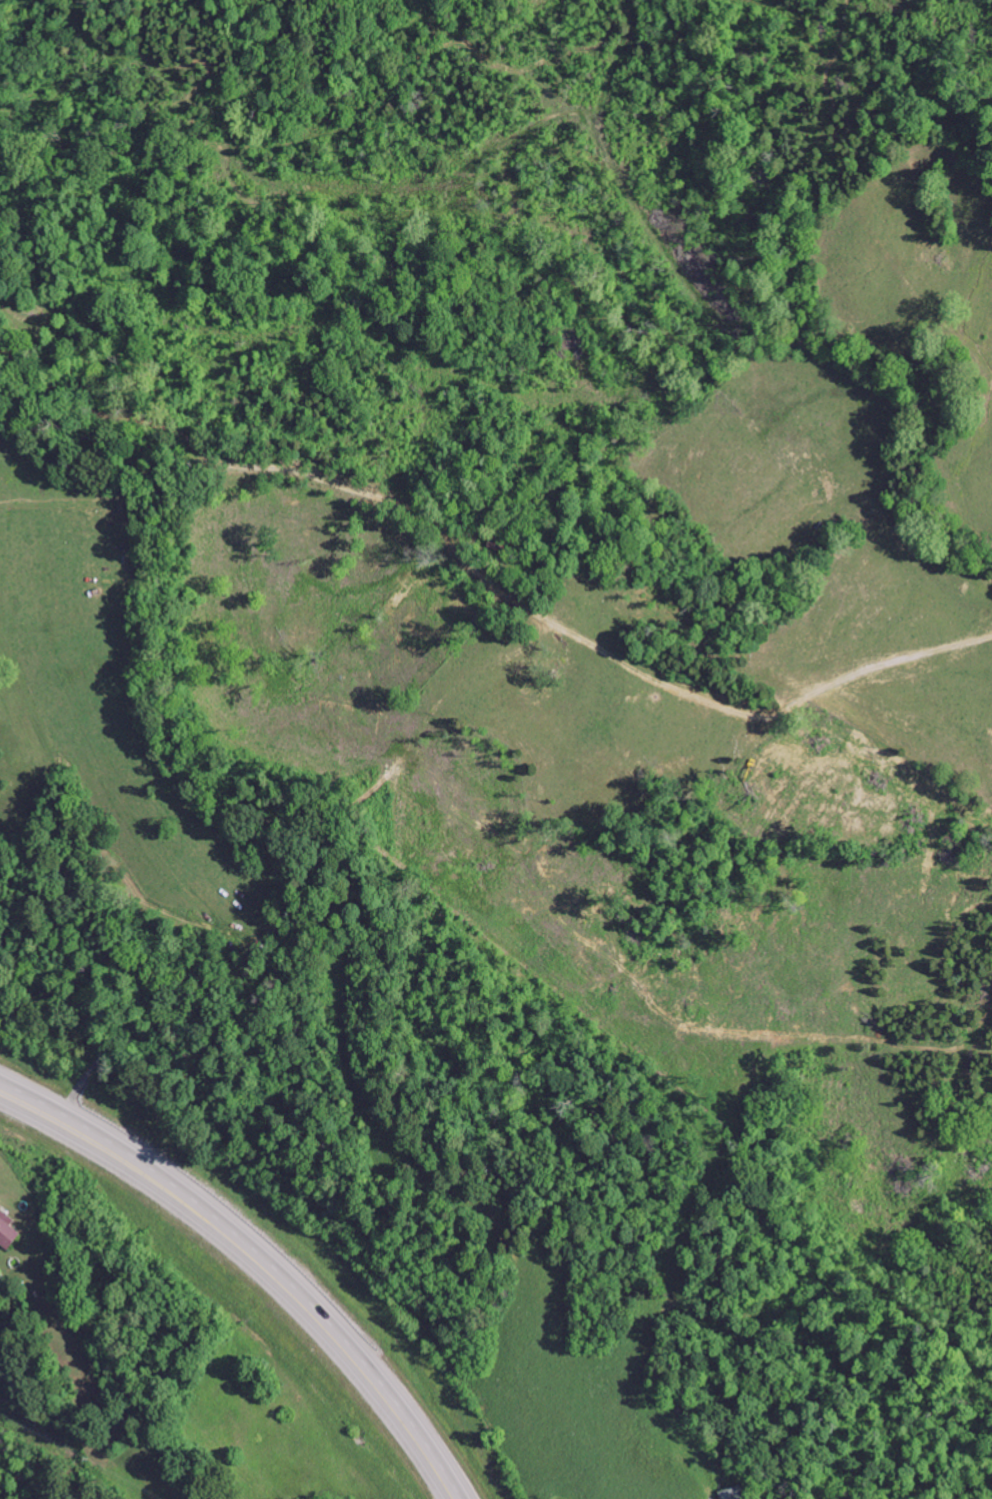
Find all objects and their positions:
road: (198, 428)
building: (8, 1234)
road: (256, 1262)
building: (733, 1493)

